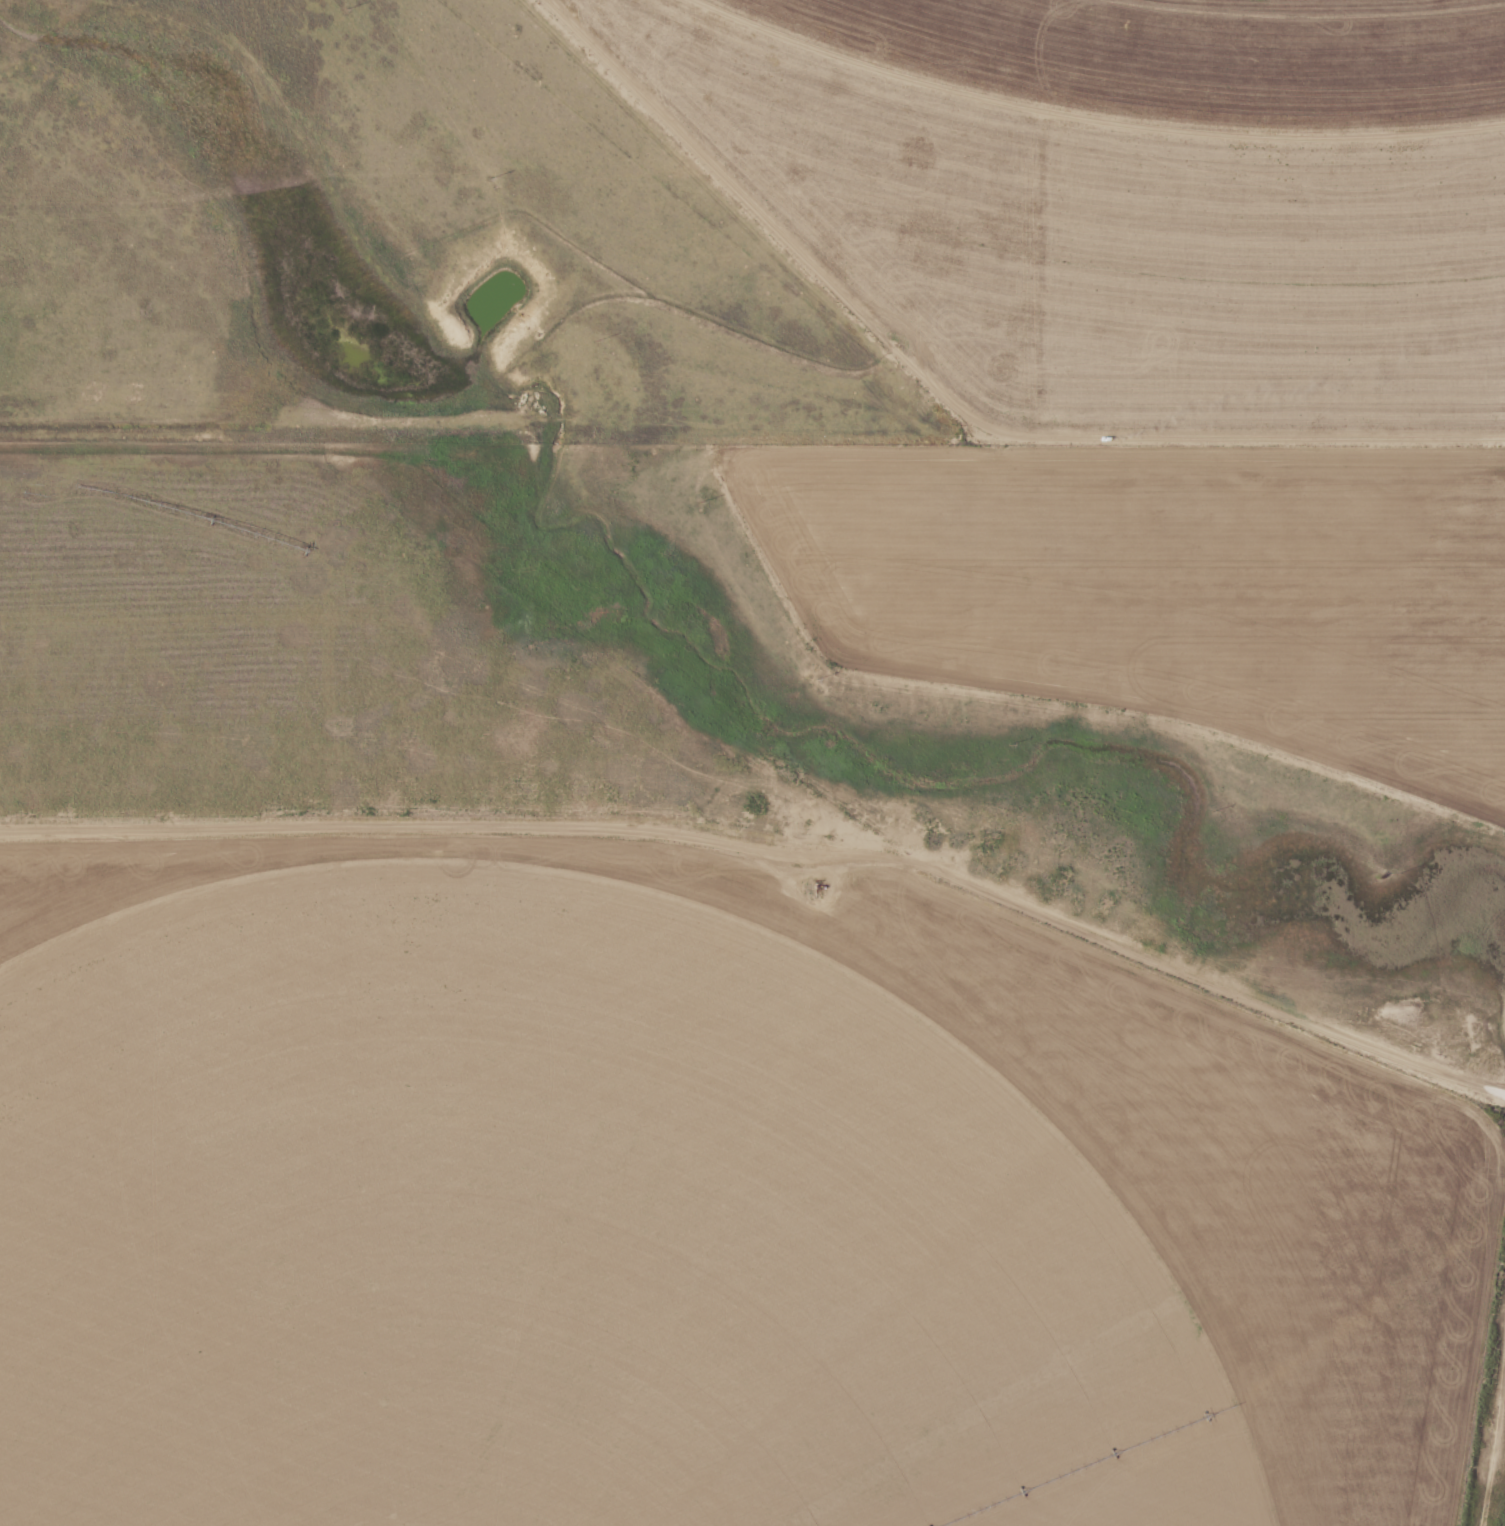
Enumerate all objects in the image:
road: (893, 454)

